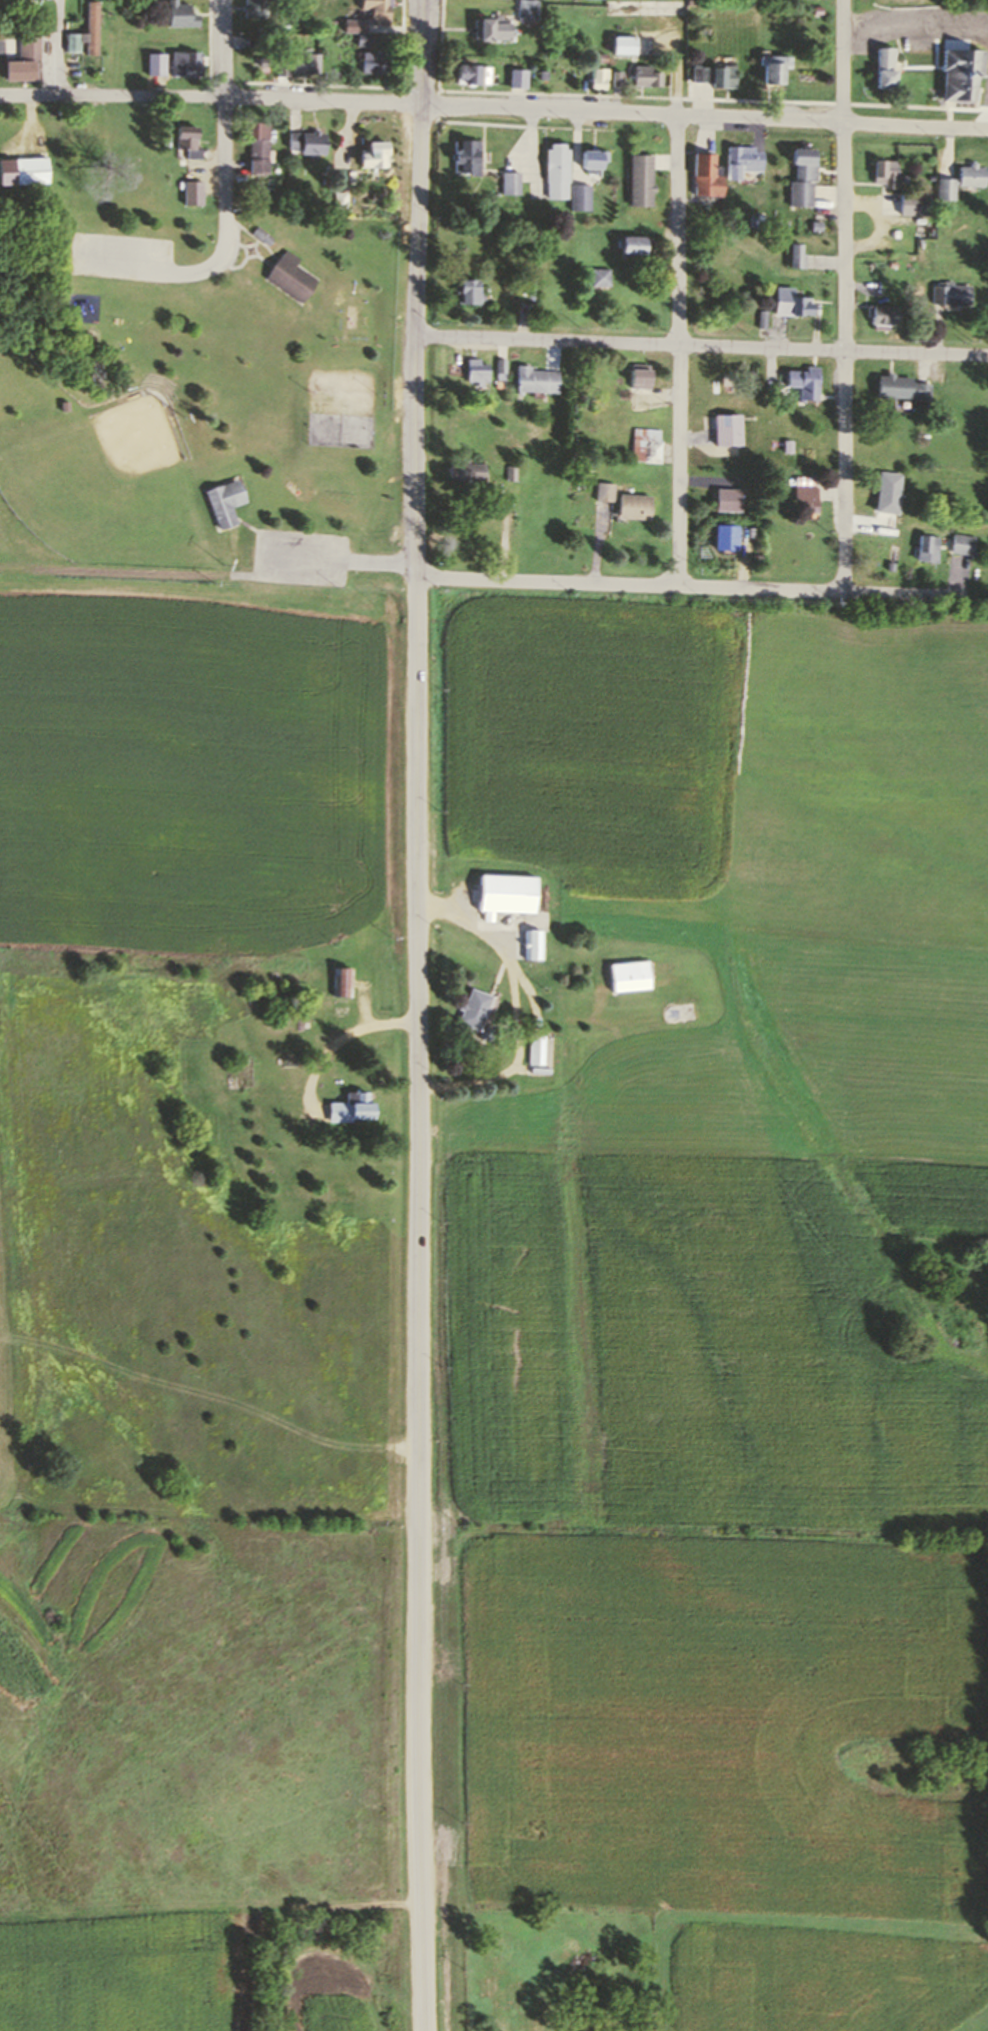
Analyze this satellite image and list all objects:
building: (259, 9)
building: (526, 9)
building: (376, 10)
building: (180, 15)
road: (917, 23)
parking lot: (920, 23)
building: (355, 25)
building: (92, 27)
building: (491, 28)
building: (363, 40)
building: (74, 43)
building: (622, 44)
road: (59, 47)
road: (403, 51)
road: (440, 52)
building: (597, 57)
building: (24, 58)
building: (305, 60)
building: (374, 62)
building: (183, 63)
building: (282, 66)
building: (884, 67)
building: (160, 69)
building: (771, 69)
building: (960, 72)
building: (471, 73)
building: (645, 76)
building: (718, 76)
building: (515, 77)
building: (616, 78)
building: (598, 79)
road: (616, 94)
road: (212, 96)
road: (706, 116)
road: (519, 125)
building: (307, 141)
building: (190, 142)
building: (259, 148)
building: (372, 153)
building: (463, 155)
building: (591, 157)
road: (226, 158)
building: (743, 159)
building: (30, 171)
building: (555, 171)
building: (883, 173)
building: (971, 174)
building: (705, 176)
building: (639, 179)
building: (800, 179)
building: (509, 182)
building: (947, 188)
building: (194, 192)
building: (581, 196)
building: (338, 200)
building: (262, 235)
building: (632, 244)
building: (794, 255)
parking lot: (121, 256)
parking lot: (154, 261)
building: (289, 275)
building: (599, 275)
road: (417, 286)
building: (530, 287)
building: (466, 290)
building: (948, 293)
road: (845, 296)
building: (788, 301)
building: (878, 313)
building: (760, 318)
road: (702, 343)
road: (679, 351)
building: (475, 369)
building: (639, 374)
building: (534, 378)
building: (804, 381)
building: (899, 386)
park: (207, 399)
building: (727, 428)
building: (645, 444)
building: (462, 467)
building: (510, 473)
park: (109, 490)
building: (885, 491)
building: (603, 492)
building: (804, 498)
building: (726, 499)
building: (224, 501)
building: (634, 507)
road: (864, 524)
road: (506, 533)
building: (723, 536)
road: (598, 544)
building: (962, 544)
building: (927, 547)
parking lot: (301, 557)
road: (349, 558)
road: (958, 576)
road: (686, 586)
building: (507, 893)
building: (534, 944)
road: (500, 946)
building: (632, 977)
building: (343, 982)
building: (472, 1008)
building: (673, 1014)
silo: (673, 1014)
road: (340, 1039)
crop: (495, 1046)
building: (537, 1050)
building: (352, 1109)
road: (421, 1302)

